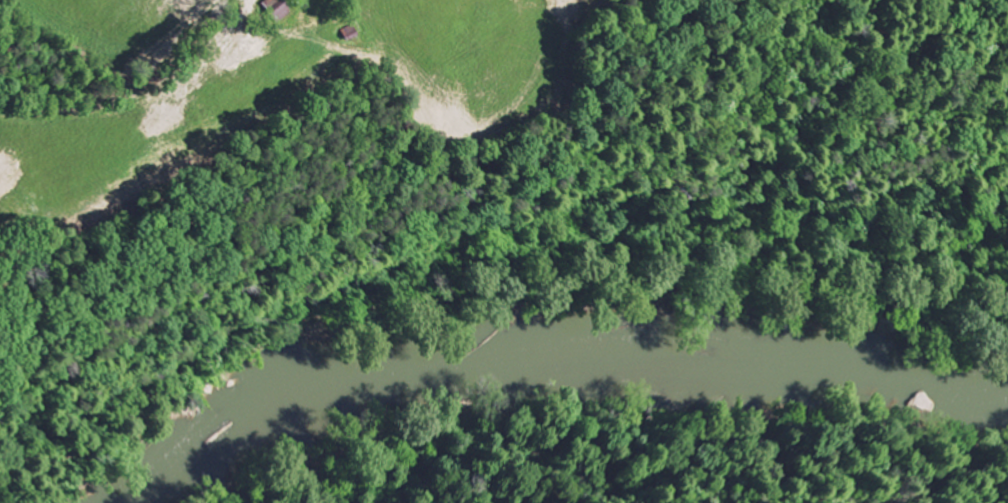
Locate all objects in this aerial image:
river: (540, 348)

